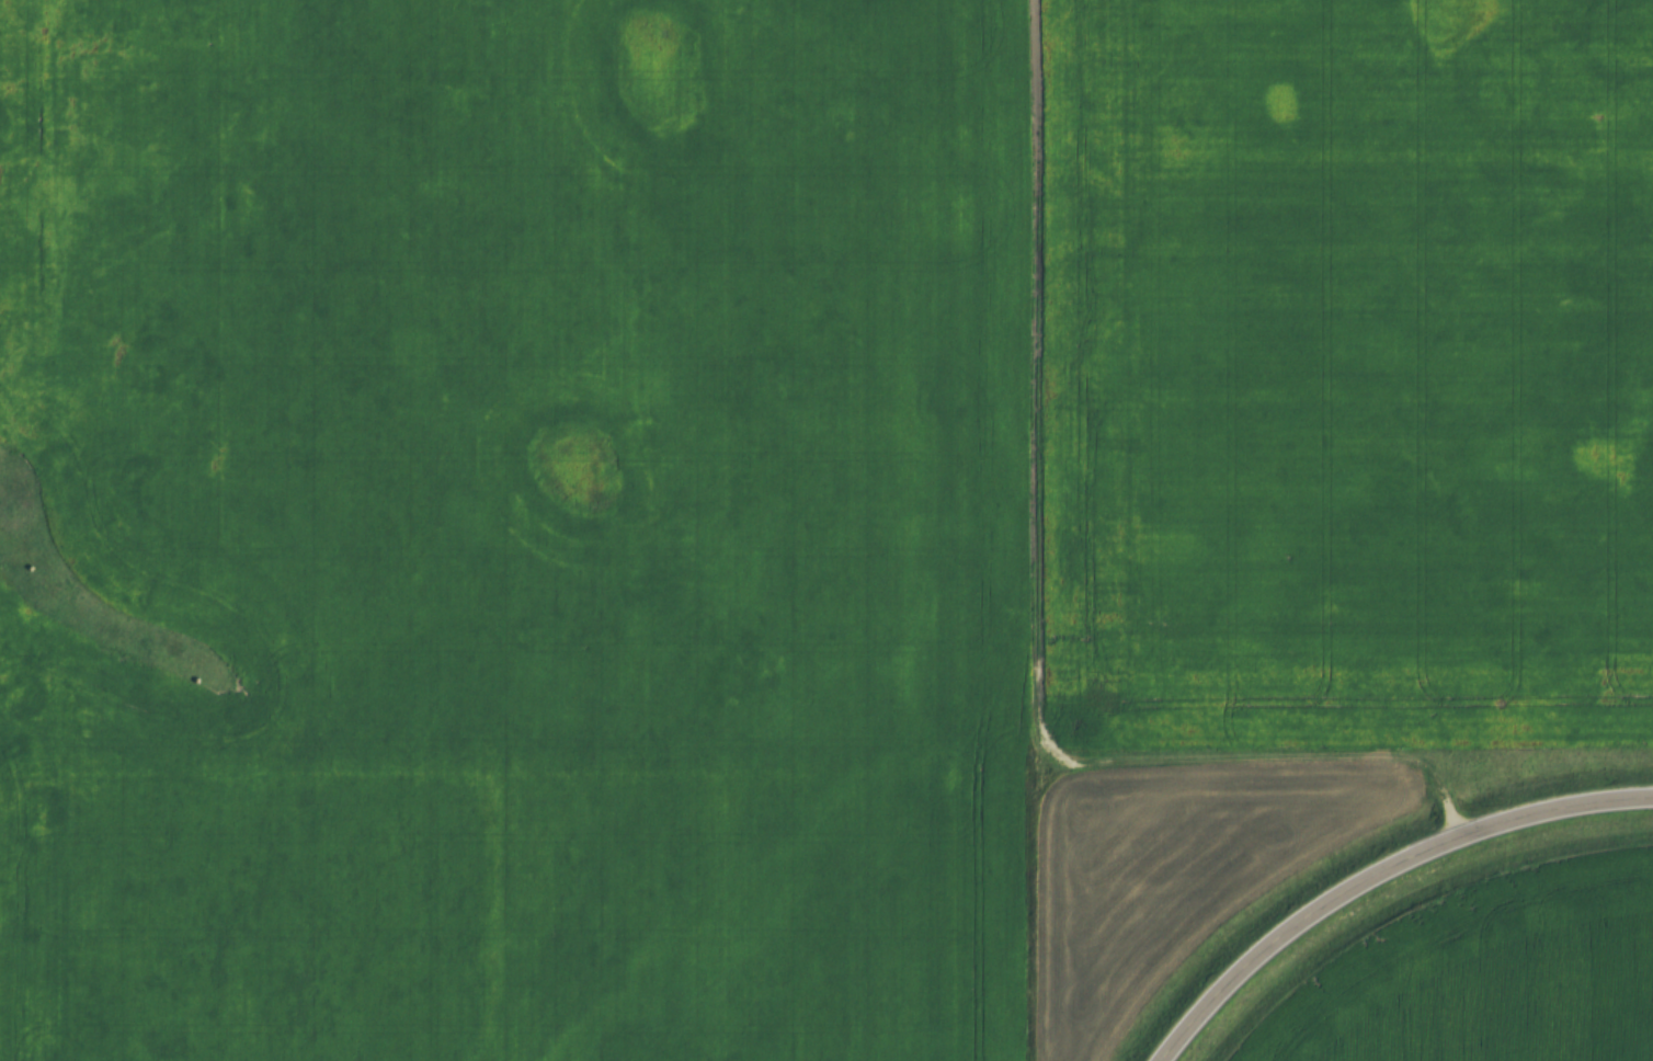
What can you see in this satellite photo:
road: (1375, 872)

